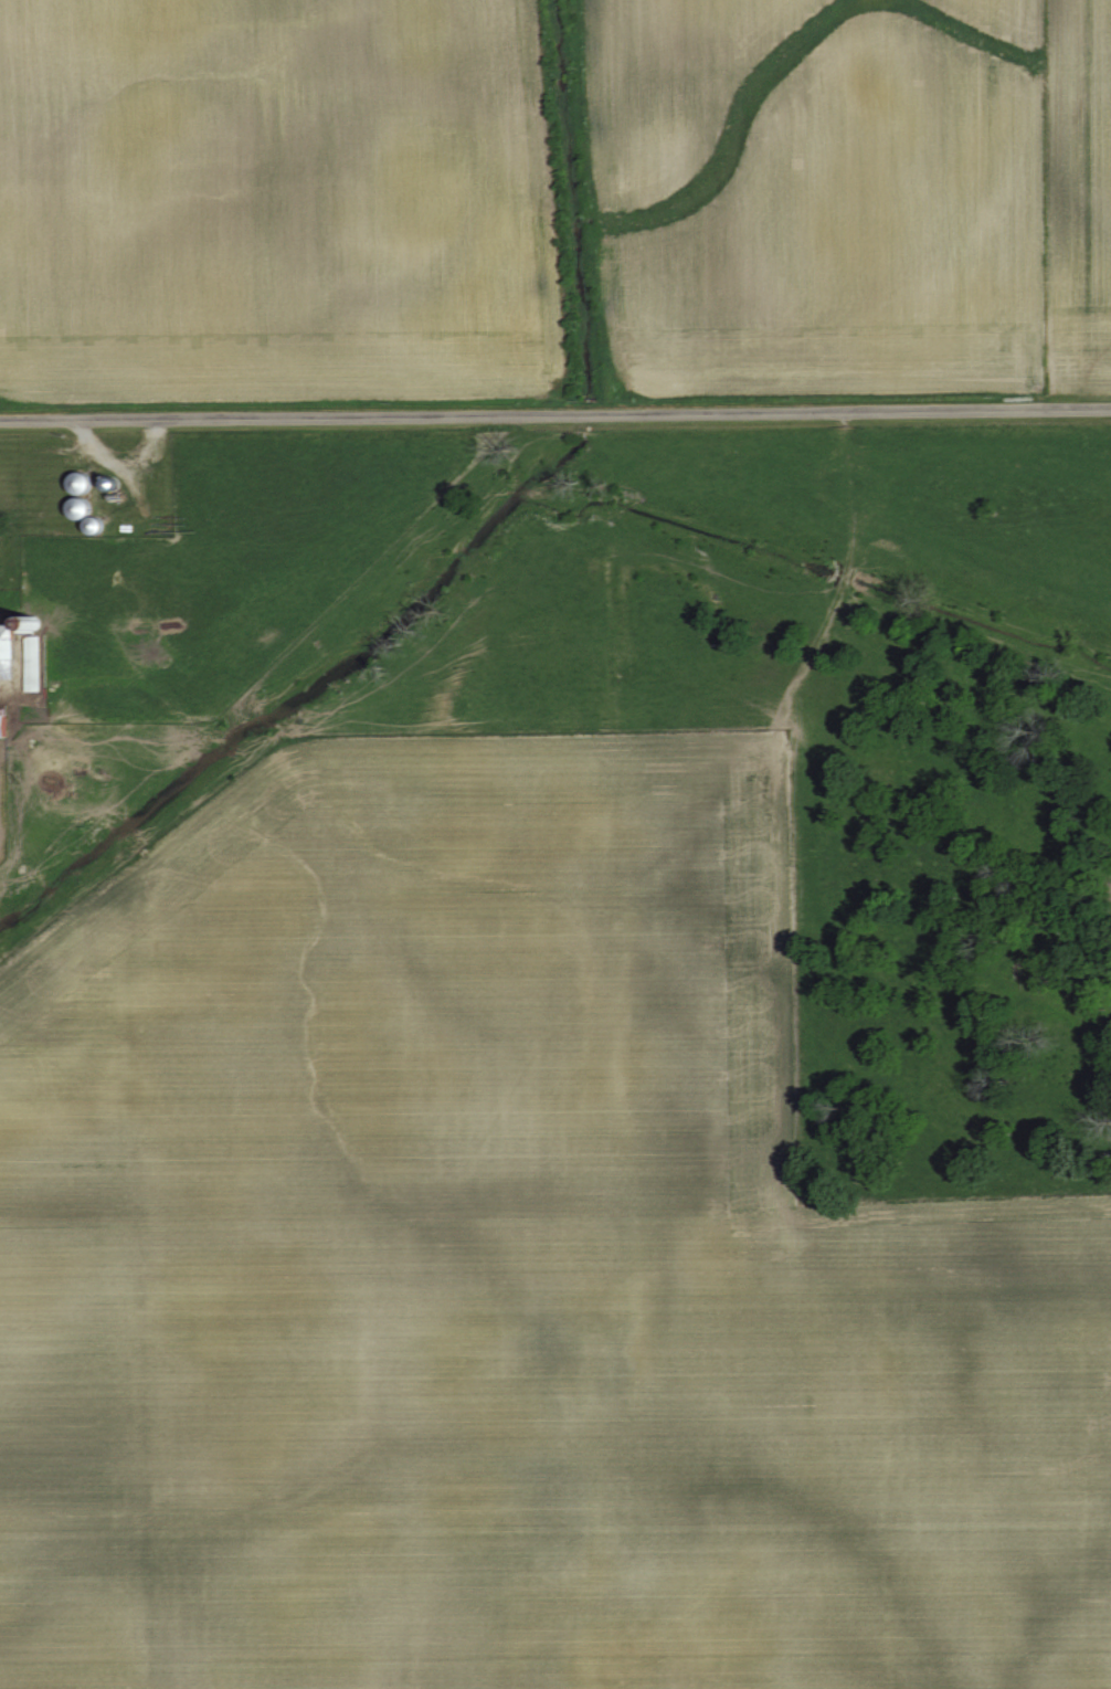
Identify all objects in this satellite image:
road: (555, 410)
building: (8, 652)
building: (35, 663)
building: (8, 725)

